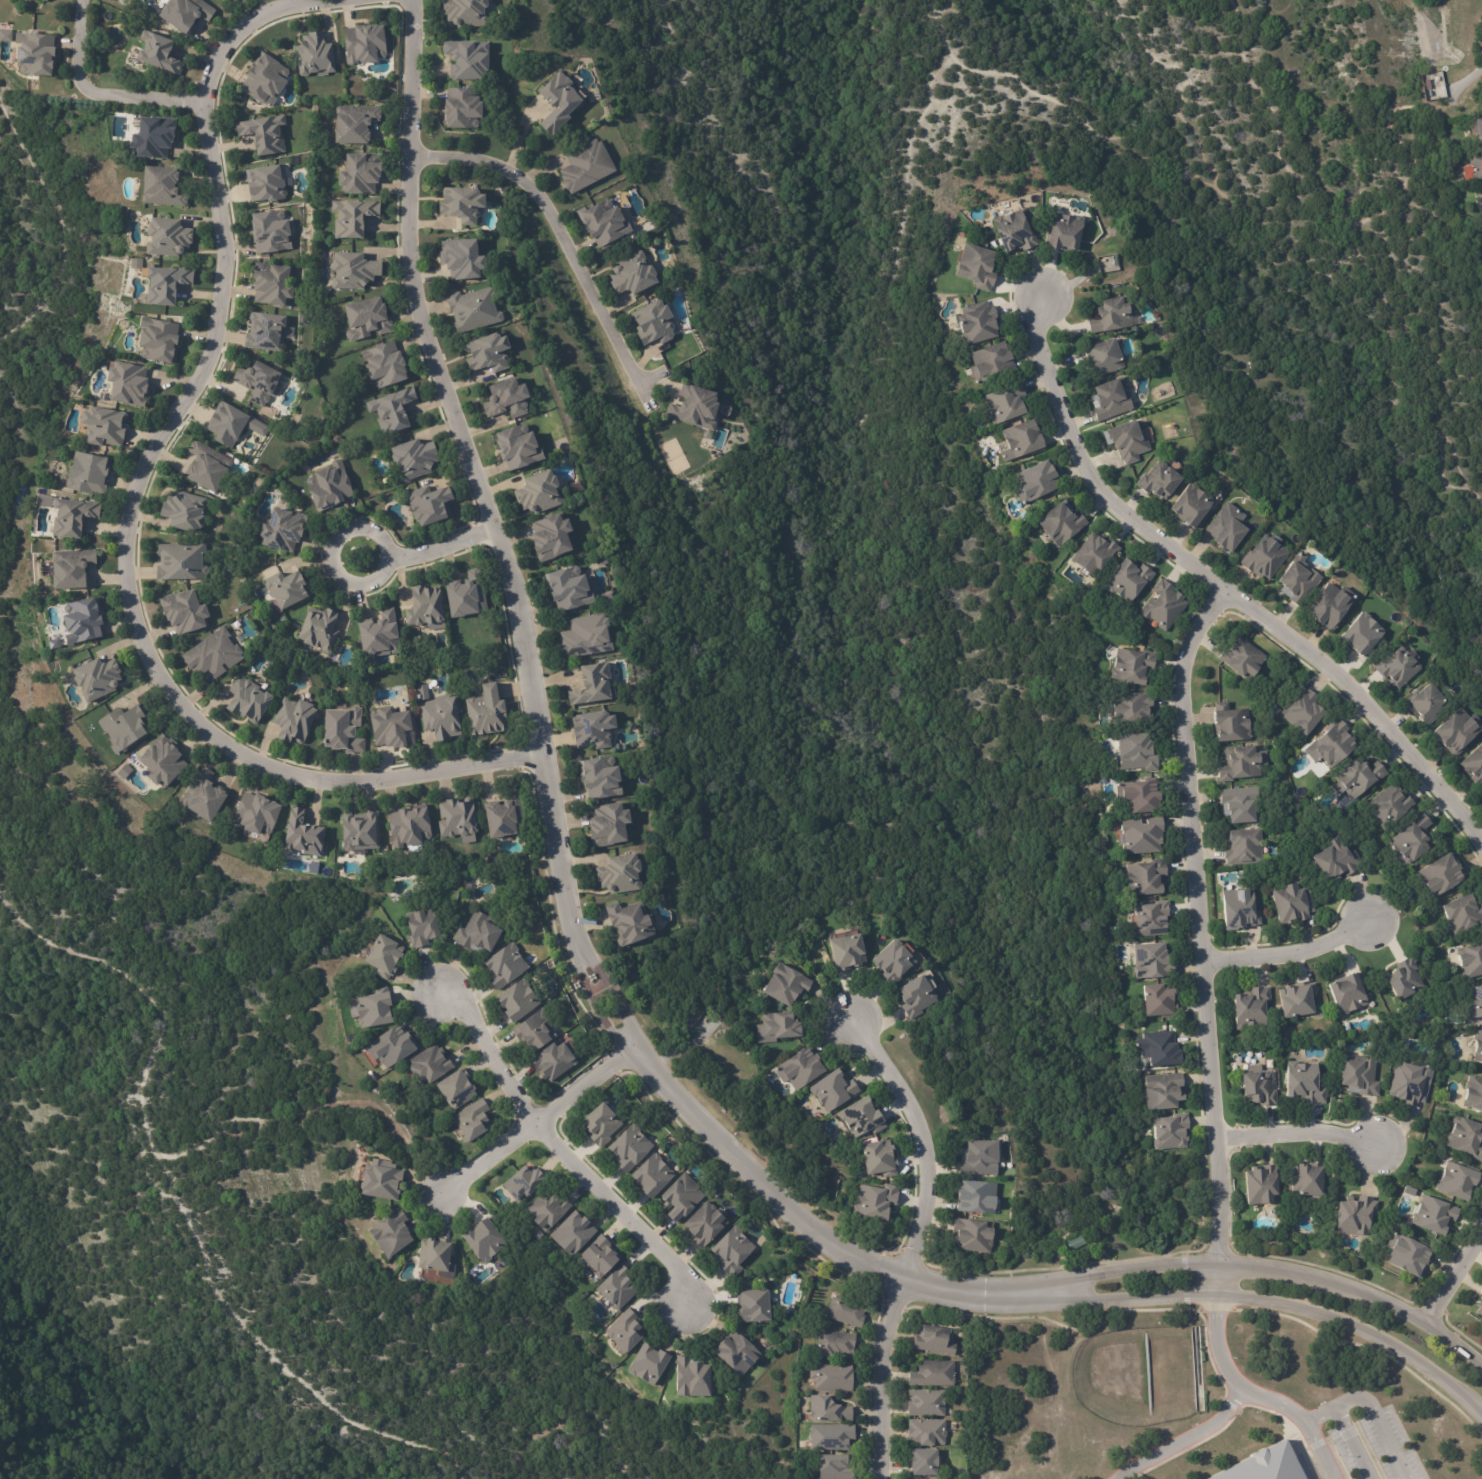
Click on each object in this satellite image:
building: (43, 0)
building: (222, 0)
building: (465, 12)
building: (182, 14)
building: (363, 44)
building: (156, 53)
building: (30, 55)
building: (314, 55)
building: (465, 59)
building: (263, 80)
building: (1432, 85)
road: (92, 96)
building: (557, 103)
building: (460, 109)
building: (351, 124)
building: (1479, 129)
road: (520, 131)
building: (264, 134)
building: (150, 137)
building: (584, 166)
building: (1474, 168)
building: (357, 174)
building: (263, 183)
building: (158, 186)
building: (1481, 193)
building: (459, 205)
building: (1479, 206)
building: (352, 217)
building: (604, 224)
building: (1013, 229)
building: (1063, 230)
road: (555, 231)
building: (267, 232)
building: (166, 238)
building: (461, 260)
building: (975, 263)
building: (352, 271)
building: (631, 275)
building: (161, 284)
building: (272, 284)
building: (472, 309)
building: (1110, 313)
building: (365, 320)
building: (977, 320)
building: (653, 323)
building: (265, 332)
building: (155, 341)
building: (488, 353)
building: (1104, 355)
building: (990, 360)
building: (383, 365)
building: (258, 382)
building: (124, 385)
building: (1110, 397)
building: (506, 399)
building: (1005, 401)
building: (694, 408)
building: (392, 410)
building: (231, 424)
building: (101, 427)
building: (1022, 437)
building: (1125, 439)
building: (515, 448)
building: (411, 457)
building: (206, 468)
building: (84, 473)
building: (1035, 479)
building: (1159, 479)
building: (328, 484)
building: (573, 488)
building: (538, 493)
building: (429, 503)
building: (1190, 503)
building: (182, 512)
building: (72, 517)
road: (133, 518)
building: (1059, 522)
building: (1226, 526)
building: (285, 529)
building: (551, 538)
road: (442, 547)
building: (1094, 552)
building: (1264, 557)
road: (326, 560)
building: (601, 560)
building: (180, 563)
building: (66, 571)
building: (1127, 579)
building: (1298, 579)
building: (287, 590)
building: (569, 590)
road: (1225, 593)
building: (464, 598)
building: (605, 599)
building: (1162, 604)
building: (1330, 604)
building: (426, 609)
building: (184, 614)
building: (282, 619)
building: (78, 624)
building: (318, 628)
building: (1362, 632)
building: (381, 633)
building: (583, 634)
building: (211, 656)
building: (1241, 656)
building: (1131, 665)
building: (1398, 667)
building: (94, 680)
building: (592, 682)
building: (247, 703)
building: (1427, 703)
building: (1134, 709)
building: (1302, 710)
building: (485, 712)
building: (436, 713)
building: (293, 721)
building: (1230, 722)
building: (394, 726)
building: (123, 728)
building: (342, 728)
building: (593, 730)
building: (1458, 730)
building: (1331, 743)
building: (1135, 751)
building: (1241, 762)
building: (160, 763)
building: (1474, 765)
road: (549, 767)
building: (1358, 777)
building: (600, 779)
building: (1138, 795)
building: (201, 798)
building: (1391, 803)
building: (1240, 804)
building: (254, 815)
building: (503, 818)
building: (457, 819)
building: (607, 826)
building: (408, 828)
building: (301, 835)
building: (358, 835)
building: (1141, 835)
building: (1412, 839)
building: (1242, 846)
building: (1335, 859)
building: (619, 874)
building: (1441, 874)
building: (1146, 877)
building: (1292, 902)
building: (1239, 910)
building: (1463, 915)
building: (1151, 918)
road: (1201, 923)
building: (629, 924)
building: (420, 927)
building: (478, 934)
building: (845, 952)
building: (383, 954)
road: (1290, 957)
building: (1471, 960)
building: (1152, 961)
building: (891, 962)
building: (504, 967)
building: (1404, 980)
building: (783, 985)
building: (1349, 993)
building: (915, 997)
building: (1297, 999)
building: (1158, 1001)
building: (1475, 1002)
building: (517, 1003)
building: (1251, 1008)
building: (373, 1009)
building: (776, 1027)
building: (535, 1033)
building: (390, 1046)
building: (1478, 1046)
building: (1158, 1048)
building: (428, 1064)
building: (552, 1064)
building: (798, 1069)
building: (1359, 1077)
building: (1411, 1083)
building: (1304, 1084)
building: (455, 1088)
building: (1258, 1088)
building: (832, 1090)
building: (1162, 1092)
building: (1473, 1093)
building: (861, 1118)
building: (472, 1120)
building: (599, 1121)
road: (540, 1122)
building: (1170, 1132)
road: (1299, 1134)
building: (1466, 1138)
building: (628, 1147)
road: (563, 1152)
building: (879, 1159)
building: (979, 1159)
building: (649, 1173)
building: (1307, 1177)
building: (378, 1180)
building: (523, 1182)
building: (1457, 1182)
building: (1260, 1183)
building: (680, 1196)
building: (975, 1198)
building: (874, 1202)
building: (547, 1209)
building: (1352, 1214)
building: (1434, 1216)
building: (704, 1222)
building: (572, 1232)
building: (392, 1234)
building: (972, 1236)
building: (484, 1239)
road: (912, 1240)
building: (1075, 1241)
building: (730, 1250)
building: (434, 1251)
building: (1406, 1252)
building: (597, 1257)
road: (1269, 1273)
road: (1457, 1277)
building: (617, 1287)
building: (1481, 1294)
road: (1274, 1302)
building: (752, 1303)
building: (1479, 1309)
building: (845, 1310)
building: (625, 1331)
building: (933, 1338)
building: (833, 1342)
building: (734, 1351)
building: (645, 1361)
building: (932, 1372)
building: (830, 1376)
building: (691, 1377)
road: (1233, 1398)
building: (925, 1402)
road: (1275, 1402)
building: (827, 1408)
road: (1372, 1414)
building: (925, 1431)
building: (830, 1436)
road: (1349, 1446)
road: (1319, 1454)
building: (922, 1460)
building: (1259, 1465)
building: (833, 1466)
building: (923, 1478)

